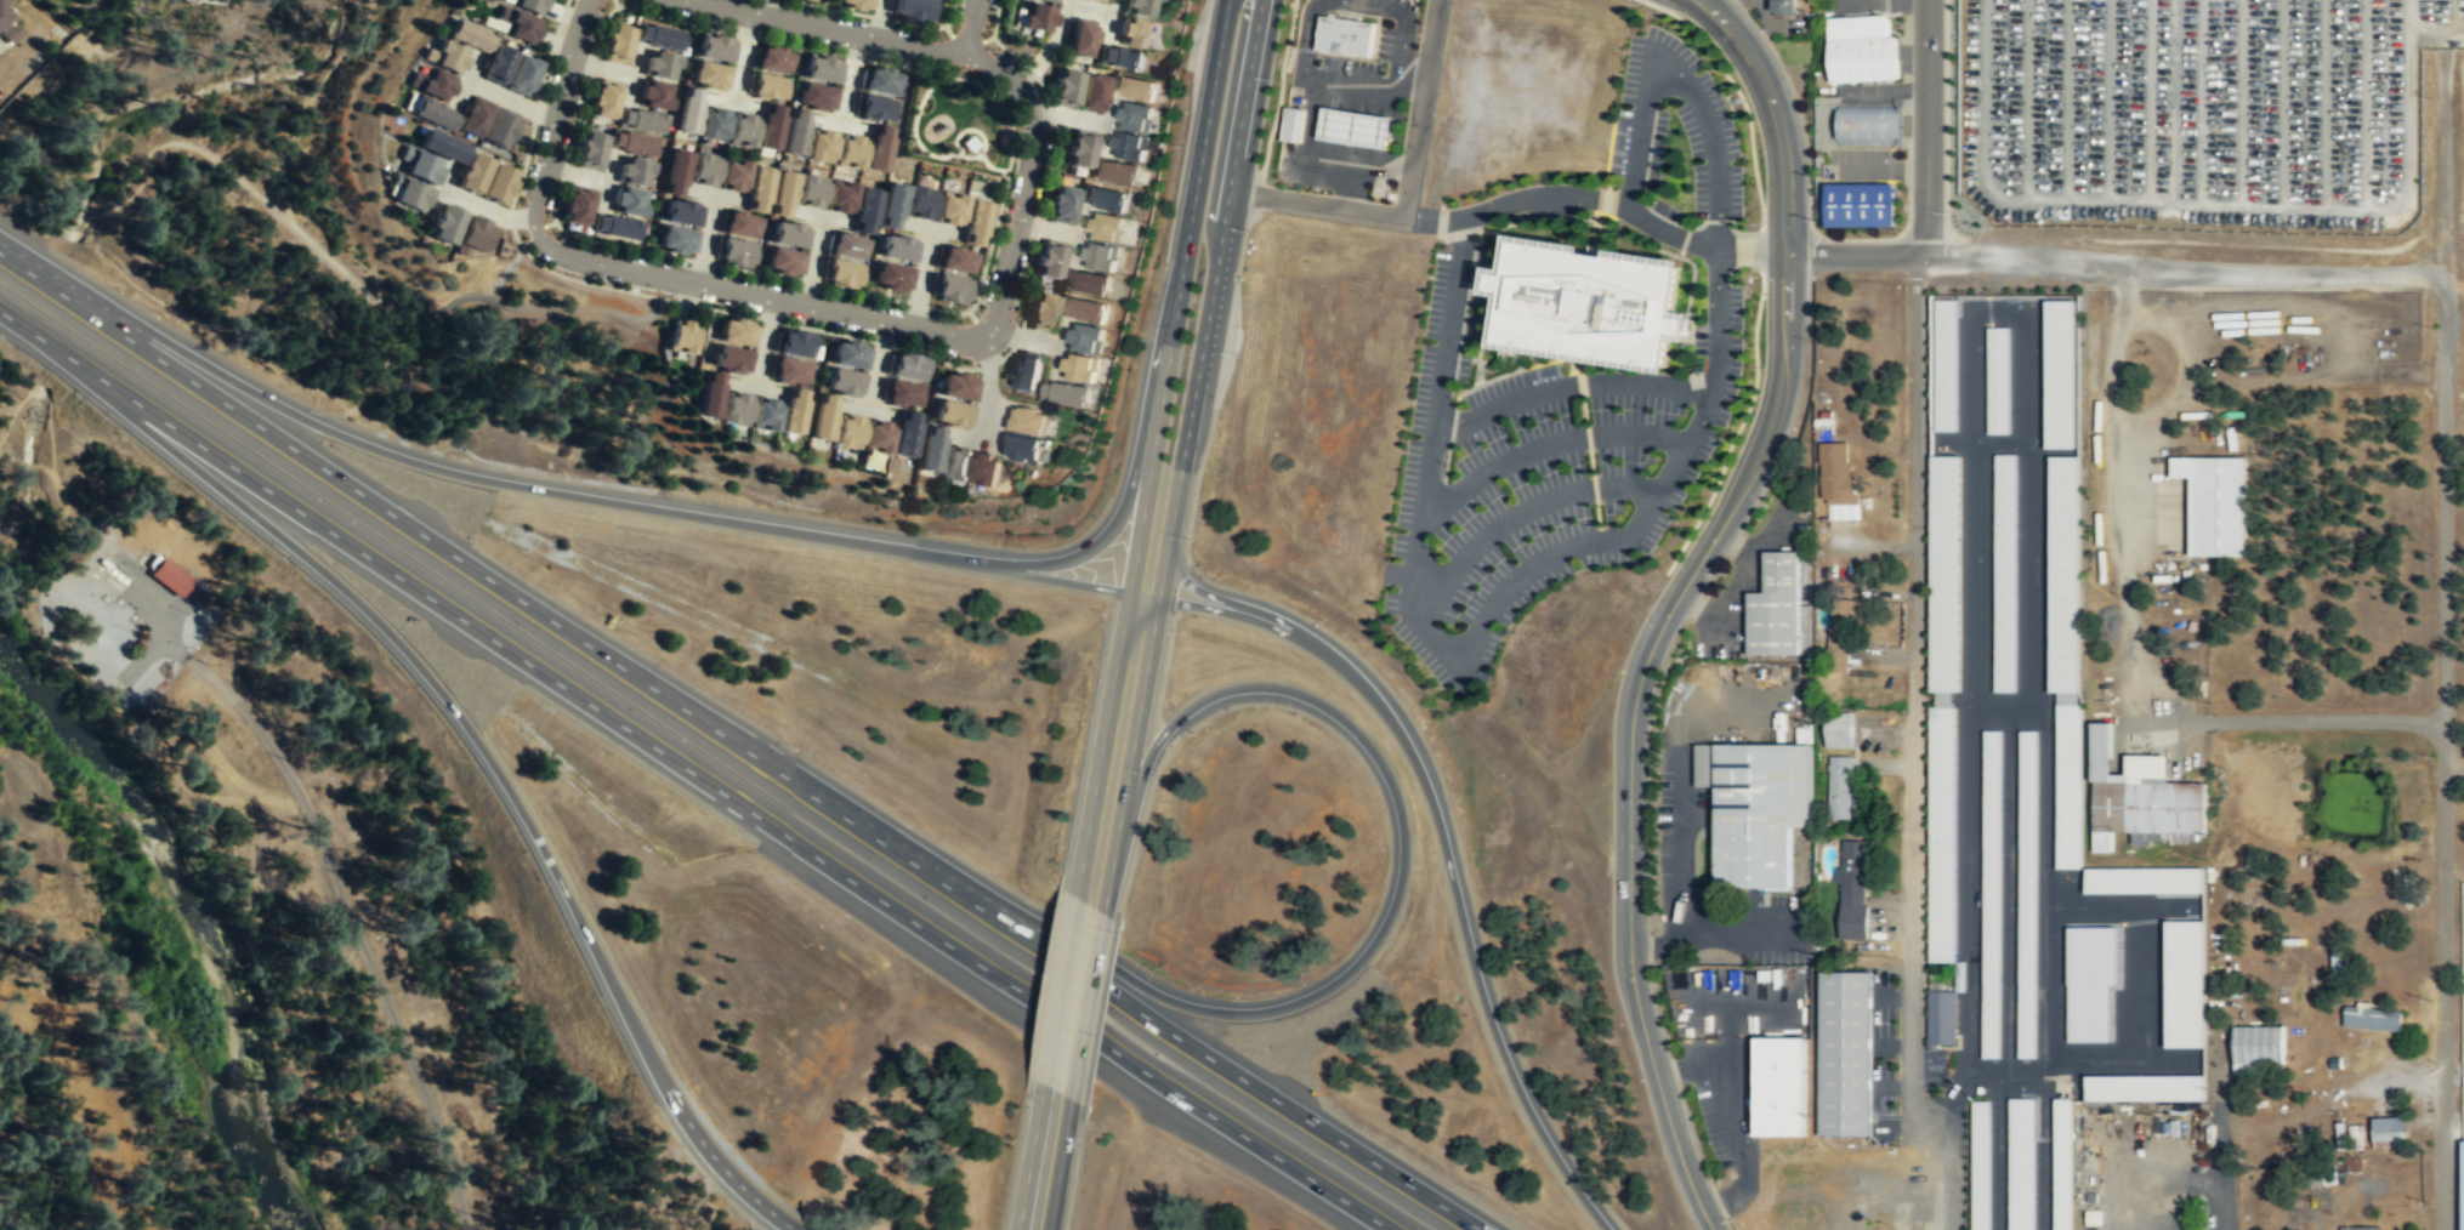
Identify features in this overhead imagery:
building: (810, 0)
building: (1046, 1)
building: (1096, 1)
street lamp: (1639, 2)
building: (855, 4)
building: (527, 5)
building: (1139, 7)
building: (1783, 7)
building: (910, 10)
building: (1037, 19)
road: (827, 25)
road: (971, 25)
building: (8, 27)
building: (517, 27)
building: (1134, 33)
building: (1346, 35)
building: (467, 36)
building: (658, 36)
building: (1080, 40)
building: (617, 41)
building: (715, 49)
building: (1862, 49)
building: (444, 56)
building: (1122, 58)
building: (772, 59)
building: (660, 64)
building: (822, 69)
building: (511, 70)
building: (709, 75)
road: (850, 78)
road: (1677, 78)
building: (879, 81)
building: (432, 84)
building: (767, 86)
building: (1134, 89)
building: (1066, 90)
building: (1092, 93)
building: (654, 95)
building: (816, 97)
building: (603, 99)
street lamp: (1747, 101)
road: (1424, 108)
building: (874, 109)
building: (688, 110)
building: (431, 113)
road: (1776, 115)
building: (1135, 116)
building: (475, 119)
road: (557, 119)
building: (642, 120)
road: (1926, 120)
park: (960, 121)
road: (842, 124)
building: (1294, 124)
building: (714, 125)
building: (1869, 125)
building: (767, 126)
building: (1357, 127)
building: (500, 130)
building: (743, 131)
road: (960, 131)
building: (795, 132)
road: (913, 132)
building: (632, 143)
building: (971, 143)
building: (821, 146)
street lamp: (1183, 146)
building: (442, 147)
building: (1129, 147)
building: (590, 149)
building: (879, 149)
building: (1079, 150)
building: (851, 152)
road: (1010, 156)
road: (987, 164)
building: (418, 165)
building: (704, 170)
building: (634, 171)
building: (676, 172)
building: (1117, 172)
building: (473, 175)
building: (734, 177)
road: (1028, 182)
building: (498, 184)
building: (759, 189)
building: (811, 190)
building: (408, 193)
building: (783, 194)
building: (841, 197)
building: (1103, 199)
building: (628, 200)
road: (1511, 203)
building: (921, 204)
building: (1062, 205)
building: (1861, 205)
building: (575, 206)
building: (892, 206)
building: (867, 210)
building: (950, 211)
building: (682, 213)
building: (445, 223)
street lamp: (1759, 223)
building: (739, 224)
building: (976, 224)
building: (615, 227)
road: (932, 227)
building: (1106, 228)
building: (473, 233)
building: (789, 234)
building: (676, 240)
building: (847, 246)
building: (898, 250)
building: (734, 252)
road: (1852, 255)
building: (1100, 257)
road: (1185, 257)
road: (1219, 261)
building: (784, 262)
building: (955, 262)
building: (1049, 262)
road: (2182, 269)
building: (840, 273)
building: (891, 279)
road: (921, 279)
building: (1088, 284)
building: (950, 291)
road: (757, 300)
building: (1590, 302)
road: (1785, 303)
building: (1083, 309)
building: (1041, 312)
road: (971, 317)
road: (2122, 318)
road: (982, 329)
building: (737, 331)
road: (34, 335)
building: (681, 336)
street lamp: (1146, 337)
building: (1086, 338)
building: (796, 343)
building: (850, 354)
building: (729, 359)
building: (1947, 364)
building: (907, 368)
building: (1080, 368)
street lamp: (1761, 368)
building: (1026, 370)
building: (789, 371)
building: (2060, 374)
road: (986, 376)
building: (1998, 380)
building: (844, 382)
road: (1569, 386)
building: (958, 387)
building: (1067, 393)
building: (710, 394)
building: (901, 394)
building: (736, 409)
building: (793, 411)
building: (952, 414)
building: (765, 415)
building: (823, 417)
building: (1028, 420)
building: (847, 431)
building: (907, 434)
building: (878, 437)
road: (1545, 446)
building: (1023, 448)
building: (931, 450)
building: (955, 463)
building: (986, 468)
street lamp: (1724, 479)
building: (1838, 479)
road: (552, 492)
building: (2214, 502)
road: (1518, 513)
street lamp: (1028, 547)
road: (1084, 552)
building: (2005, 573)
building: (1946, 574)
building: (168, 577)
road: (1193, 587)
building: (1778, 605)
road: (1482, 628)
building: (1839, 634)
road: (2449, 649)
river: (4, 654)
building: (2065, 655)
road: (1125, 711)
road: (2289, 725)
building: (1839, 729)
road: (1917, 738)
road: (738, 742)
road: (484, 748)
road: (2457, 765)
road: (1630, 779)
building: (1840, 787)
road: (728, 795)
building: (2140, 796)
building: (1756, 809)
building: (1943, 833)
road: (1452, 842)
road: (1402, 877)
building: (2144, 879)
building: (1853, 888)
building: (1992, 894)
building: (2028, 894)
road: (348, 911)
river: (200, 921)
building: (2090, 981)
building: (2184, 983)
road: (1075, 997)
building: (2373, 1018)
building: (1941, 1019)
building: (2259, 1048)
building: (1847, 1053)
building: (1782, 1087)
building: (2146, 1087)
building: (2390, 1132)
building: (2354, 1137)
road: (1046, 1160)
building: (2021, 1163)
building: (2061, 1163)
building: (1981, 1164)
road: (2216, 1174)
building: (2463, 1183)
building: (2360, 1228)

